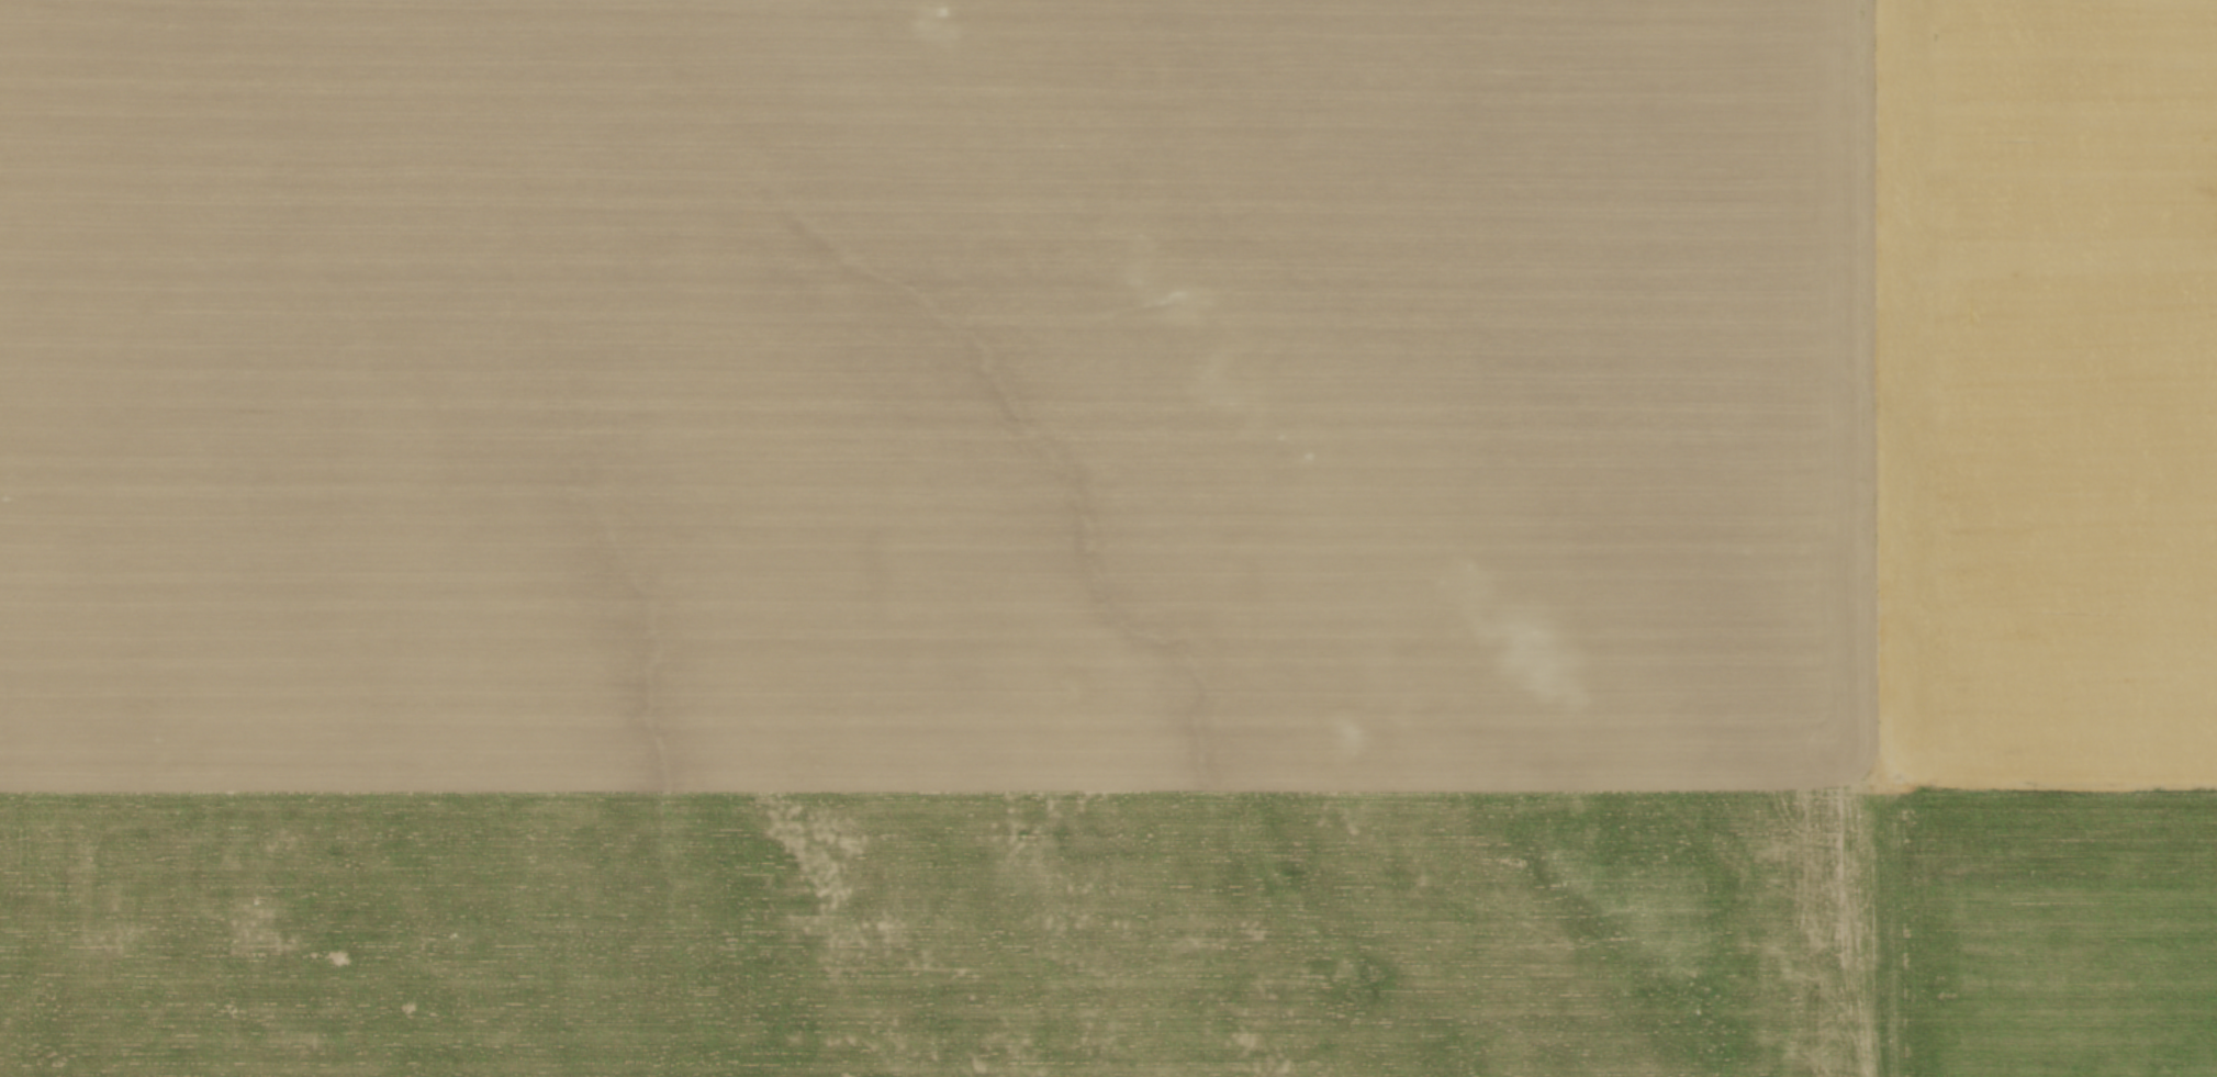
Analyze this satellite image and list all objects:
crop: (1108, 538)

